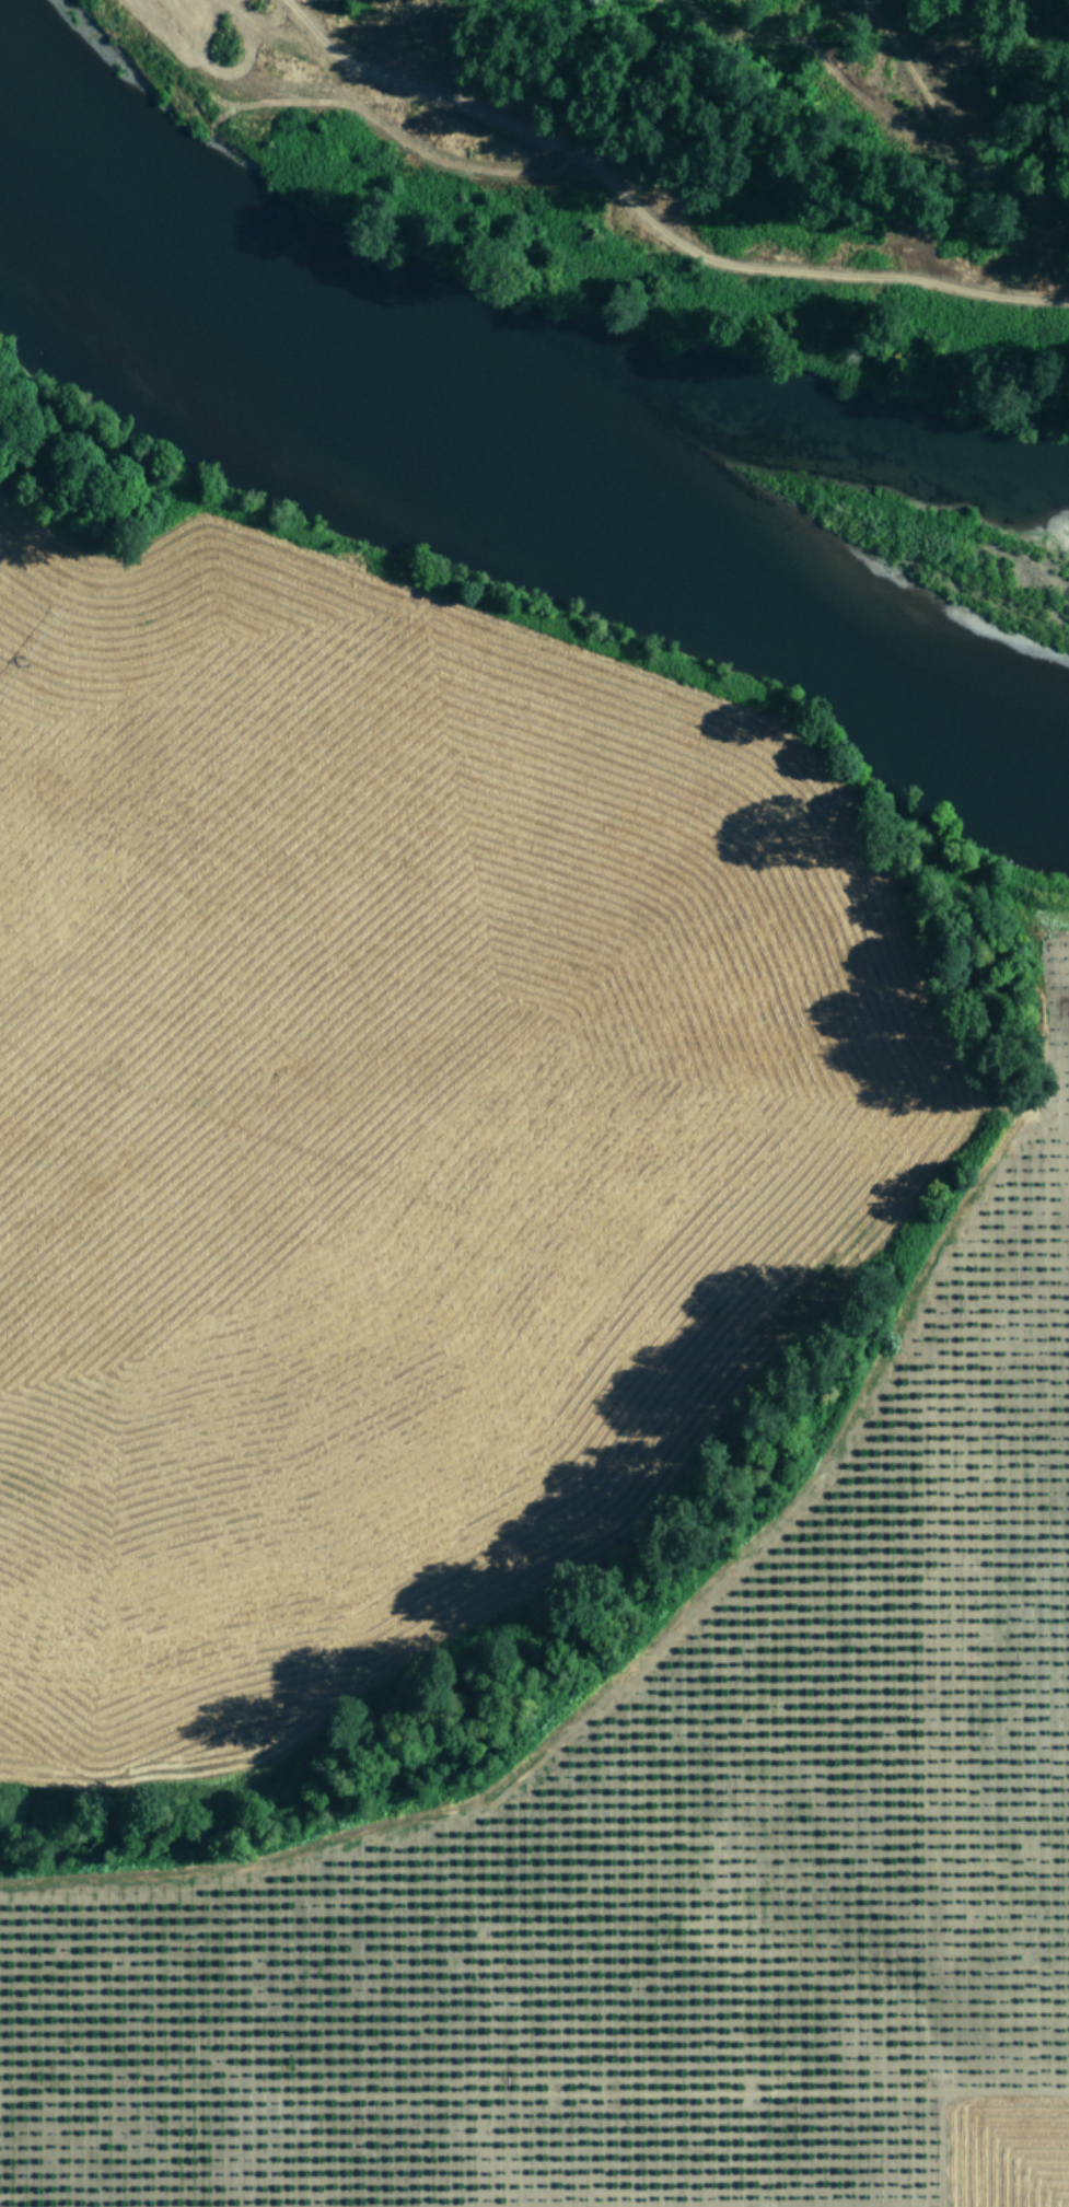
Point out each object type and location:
river: (506, 485)
road: (576, 990)
crop: (662, 1851)

